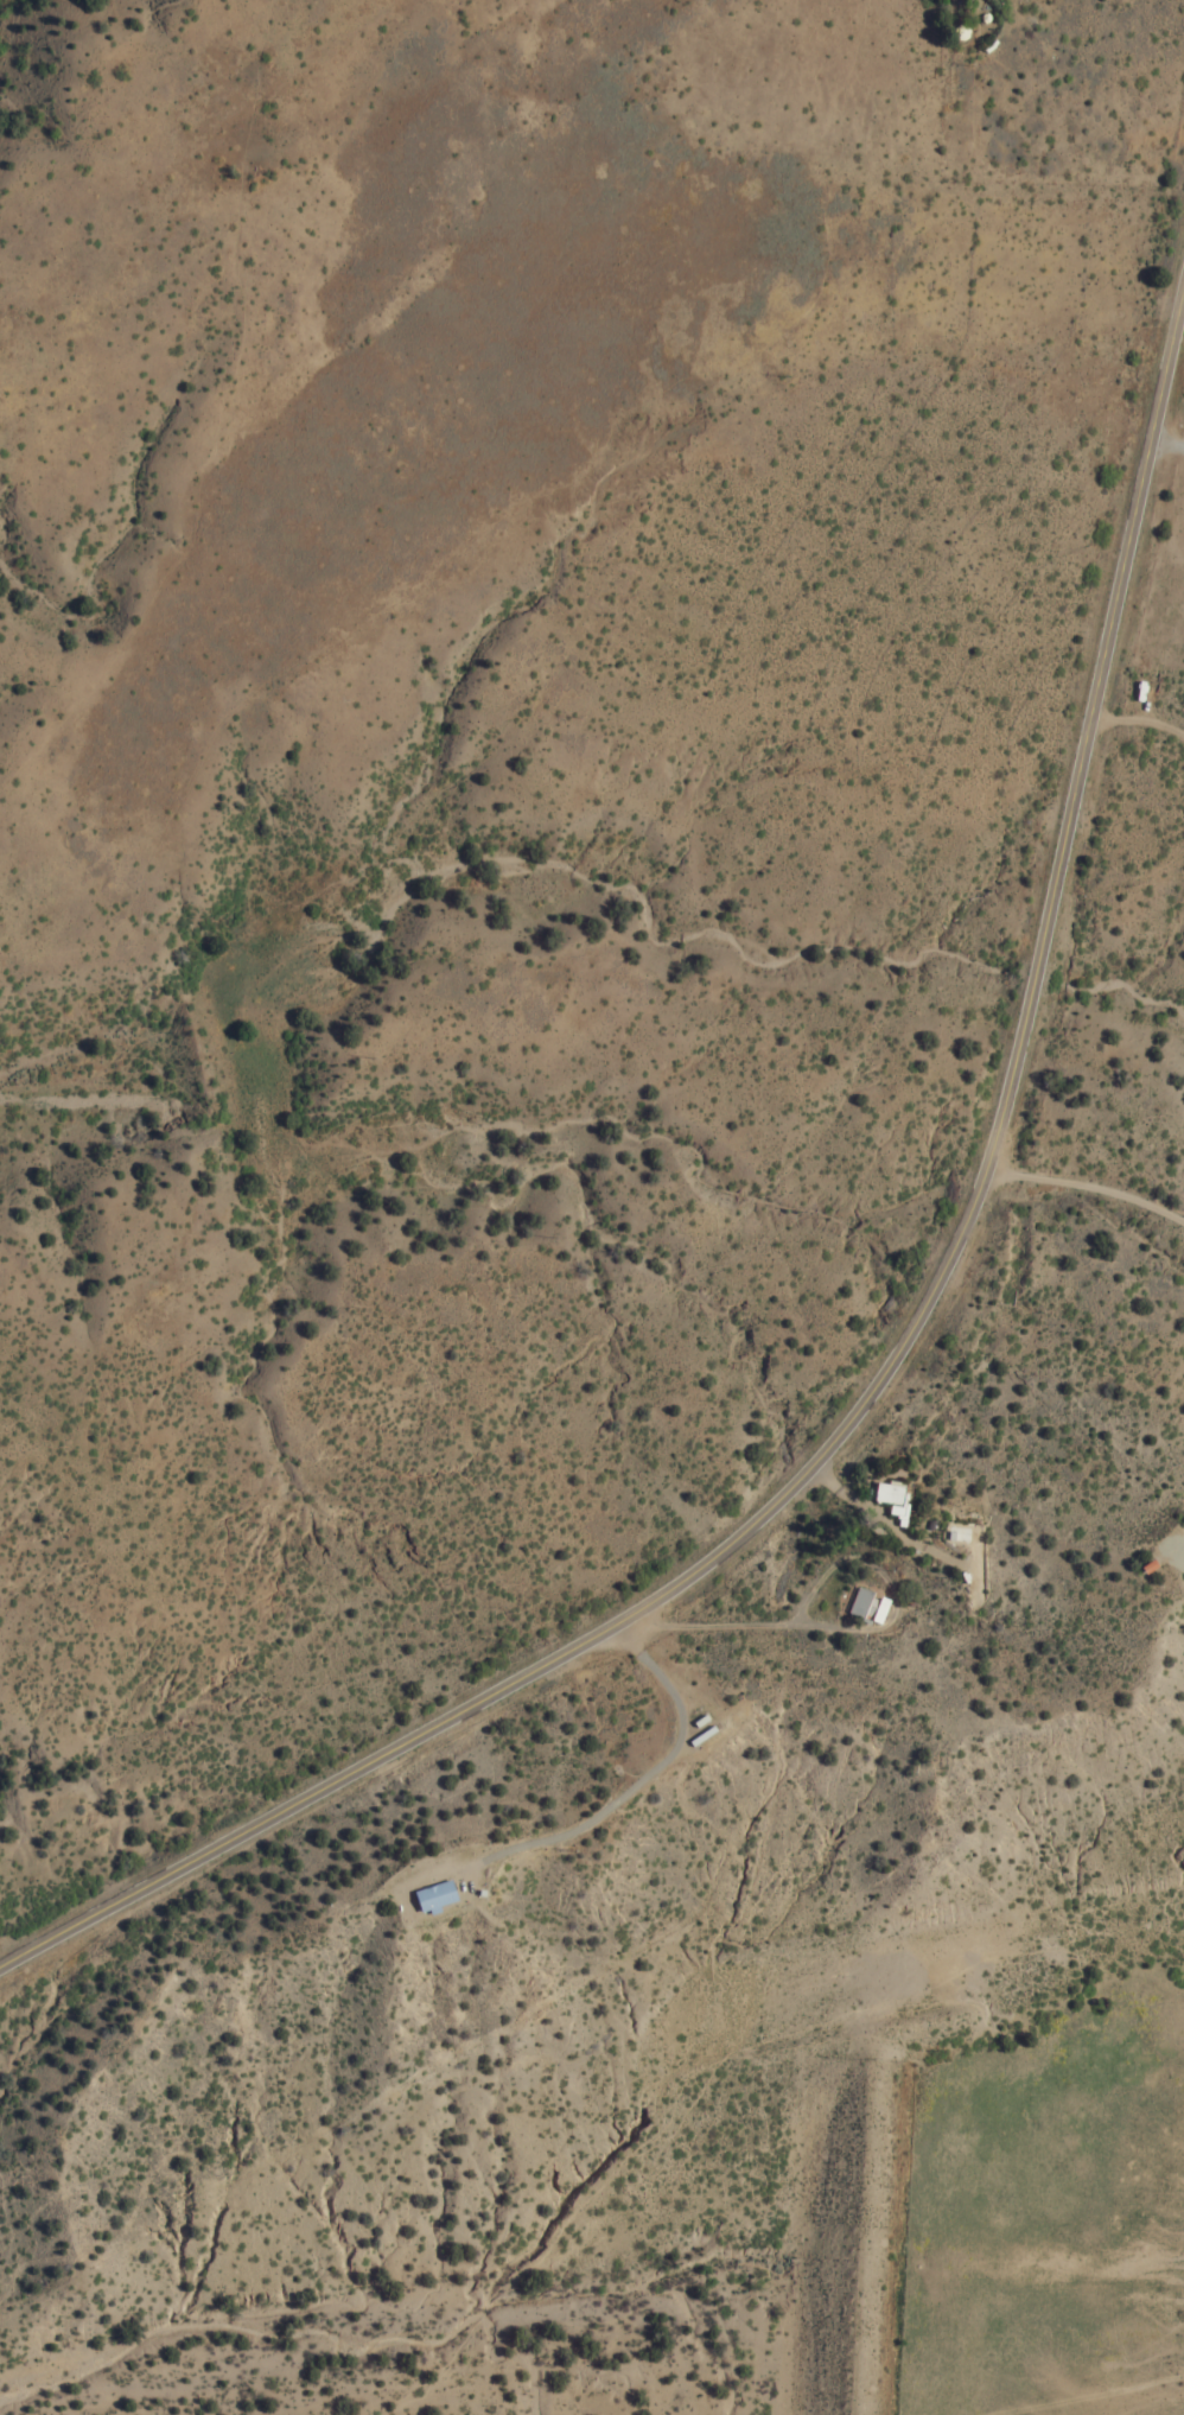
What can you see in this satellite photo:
road: (892, 1369)
building: (886, 1493)
building: (857, 1602)
building: (878, 1610)
building: (428, 1893)
road: (197, 2363)

